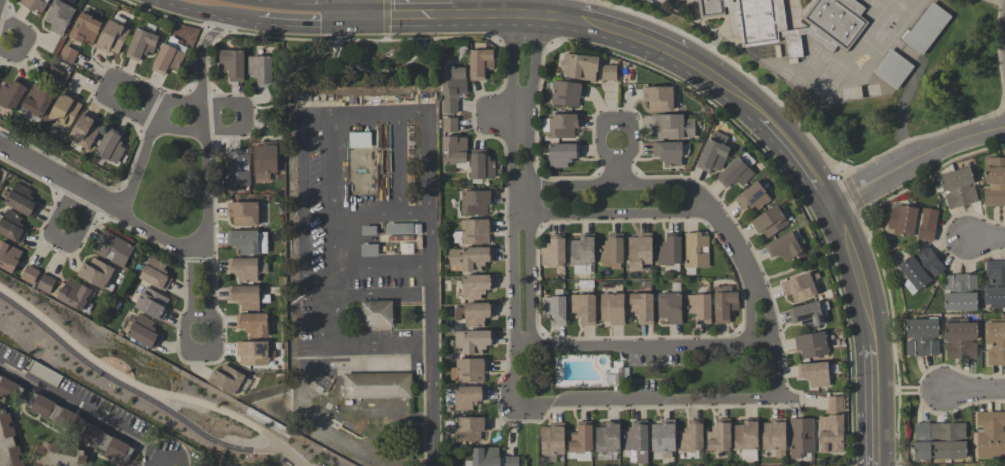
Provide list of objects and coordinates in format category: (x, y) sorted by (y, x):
building: (671, 0)
road: (1, 3)
road: (310, 3)
building: (35, 4)
road: (356, 8)
building: (710, 8)
road: (561, 9)
park: (972, 10)
road: (206, 13)
road: (404, 15)
road: (505, 15)
building: (61, 16)
road: (385, 20)
building: (756, 22)
building: (835, 22)
road: (307, 24)
building: (86, 29)
building: (926, 29)
building: (113, 38)
road: (23, 41)
building: (142, 44)
building: (176, 44)
building: (793, 47)
road: (667, 50)
building: (67, 54)
road: (200, 56)
building: (168, 57)
building: (480, 63)
building: (233, 64)
building: (582, 67)
building: (262, 70)
building: (893, 70)
building: (609, 73)
building: (54, 75)
building: (452, 87)
building: (568, 93)
building: (13, 94)
building: (658, 98)
building: (39, 101)
building: (66, 110)
road: (242, 111)
building: (450, 125)
building: (561, 126)
building: (673, 126)
building: (85, 131)
road: (628, 131)
building: (359, 139)
building: (112, 146)
building: (454, 150)
building: (669, 153)
building: (714, 153)
building: (563, 154)
road: (139, 156)
road: (798, 157)
road: (916, 159)
building: (265, 161)
building: (481, 166)
building: (237, 168)
building: (735, 174)
road: (60, 178)
road: (204, 178)
building: (995, 183)
road: (334, 186)
building: (958, 188)
building: (752, 197)
building: (22, 201)
building: (476, 202)
road: (521, 209)
building: (244, 214)
road: (713, 220)
building: (770, 222)
building: (913, 222)
building: (12, 227)
building: (400, 229)
building: (369, 231)
building: (476, 231)
road: (154, 238)
road: (986, 239)
road: (61, 240)
building: (248, 242)
building: (784, 247)
building: (405, 248)
building: (114, 249)
building: (583, 250)
building: (670, 250)
building: (369, 251)
building: (612, 251)
building: (696, 251)
building: (554, 252)
building: (640, 252)
building: (9, 257)
building: (471, 258)
road: (383, 262)
building: (921, 268)
building: (247, 269)
building: (29, 274)
building: (97, 274)
building: (155, 274)
road: (206, 276)
road: (189, 283)
building: (46, 284)
building: (995, 285)
building: (476, 286)
building: (800, 287)
road: (864, 287)
road: (432, 289)
building: (960, 293)
building: (77, 296)
building: (245, 297)
building: (152, 304)
building: (725, 304)
building: (642, 307)
building: (670, 308)
building: (700, 308)
building: (584, 309)
building: (612, 309)
building: (555, 310)
building: (376, 313)
building: (475, 314)
building: (808, 316)
building: (254, 324)
building: (144, 332)
building: (922, 337)
road: (644, 339)
building: (960, 339)
building: (474, 341)
building: (995, 343)
building: (812, 345)
road: (195, 351)
road: (385, 351)
building: (254, 353)
building: (470, 371)
building: (45, 374)
building: (815, 374)
building: (227, 380)
road: (120, 383)
road: (131, 383)
park: (147, 384)
building: (377, 386)
building: (10, 390)
road: (975, 390)
road: (911, 391)
building: (465, 397)
road: (654, 403)
building: (836, 404)
road: (83, 413)
road: (877, 421)
building: (80, 428)
building: (470, 429)
building: (831, 433)
building: (991, 435)
building: (663, 436)
building: (692, 437)
building: (719, 437)
building: (774, 437)
building: (609, 438)
building: (581, 439)
building: (747, 439)
building: (801, 439)
building: (553, 440)
building: (940, 441)
building: (8, 442)
building: (637, 442)
road: (279, 449)
building: (59, 455)
building: (485, 457)
building: (512, 461)

